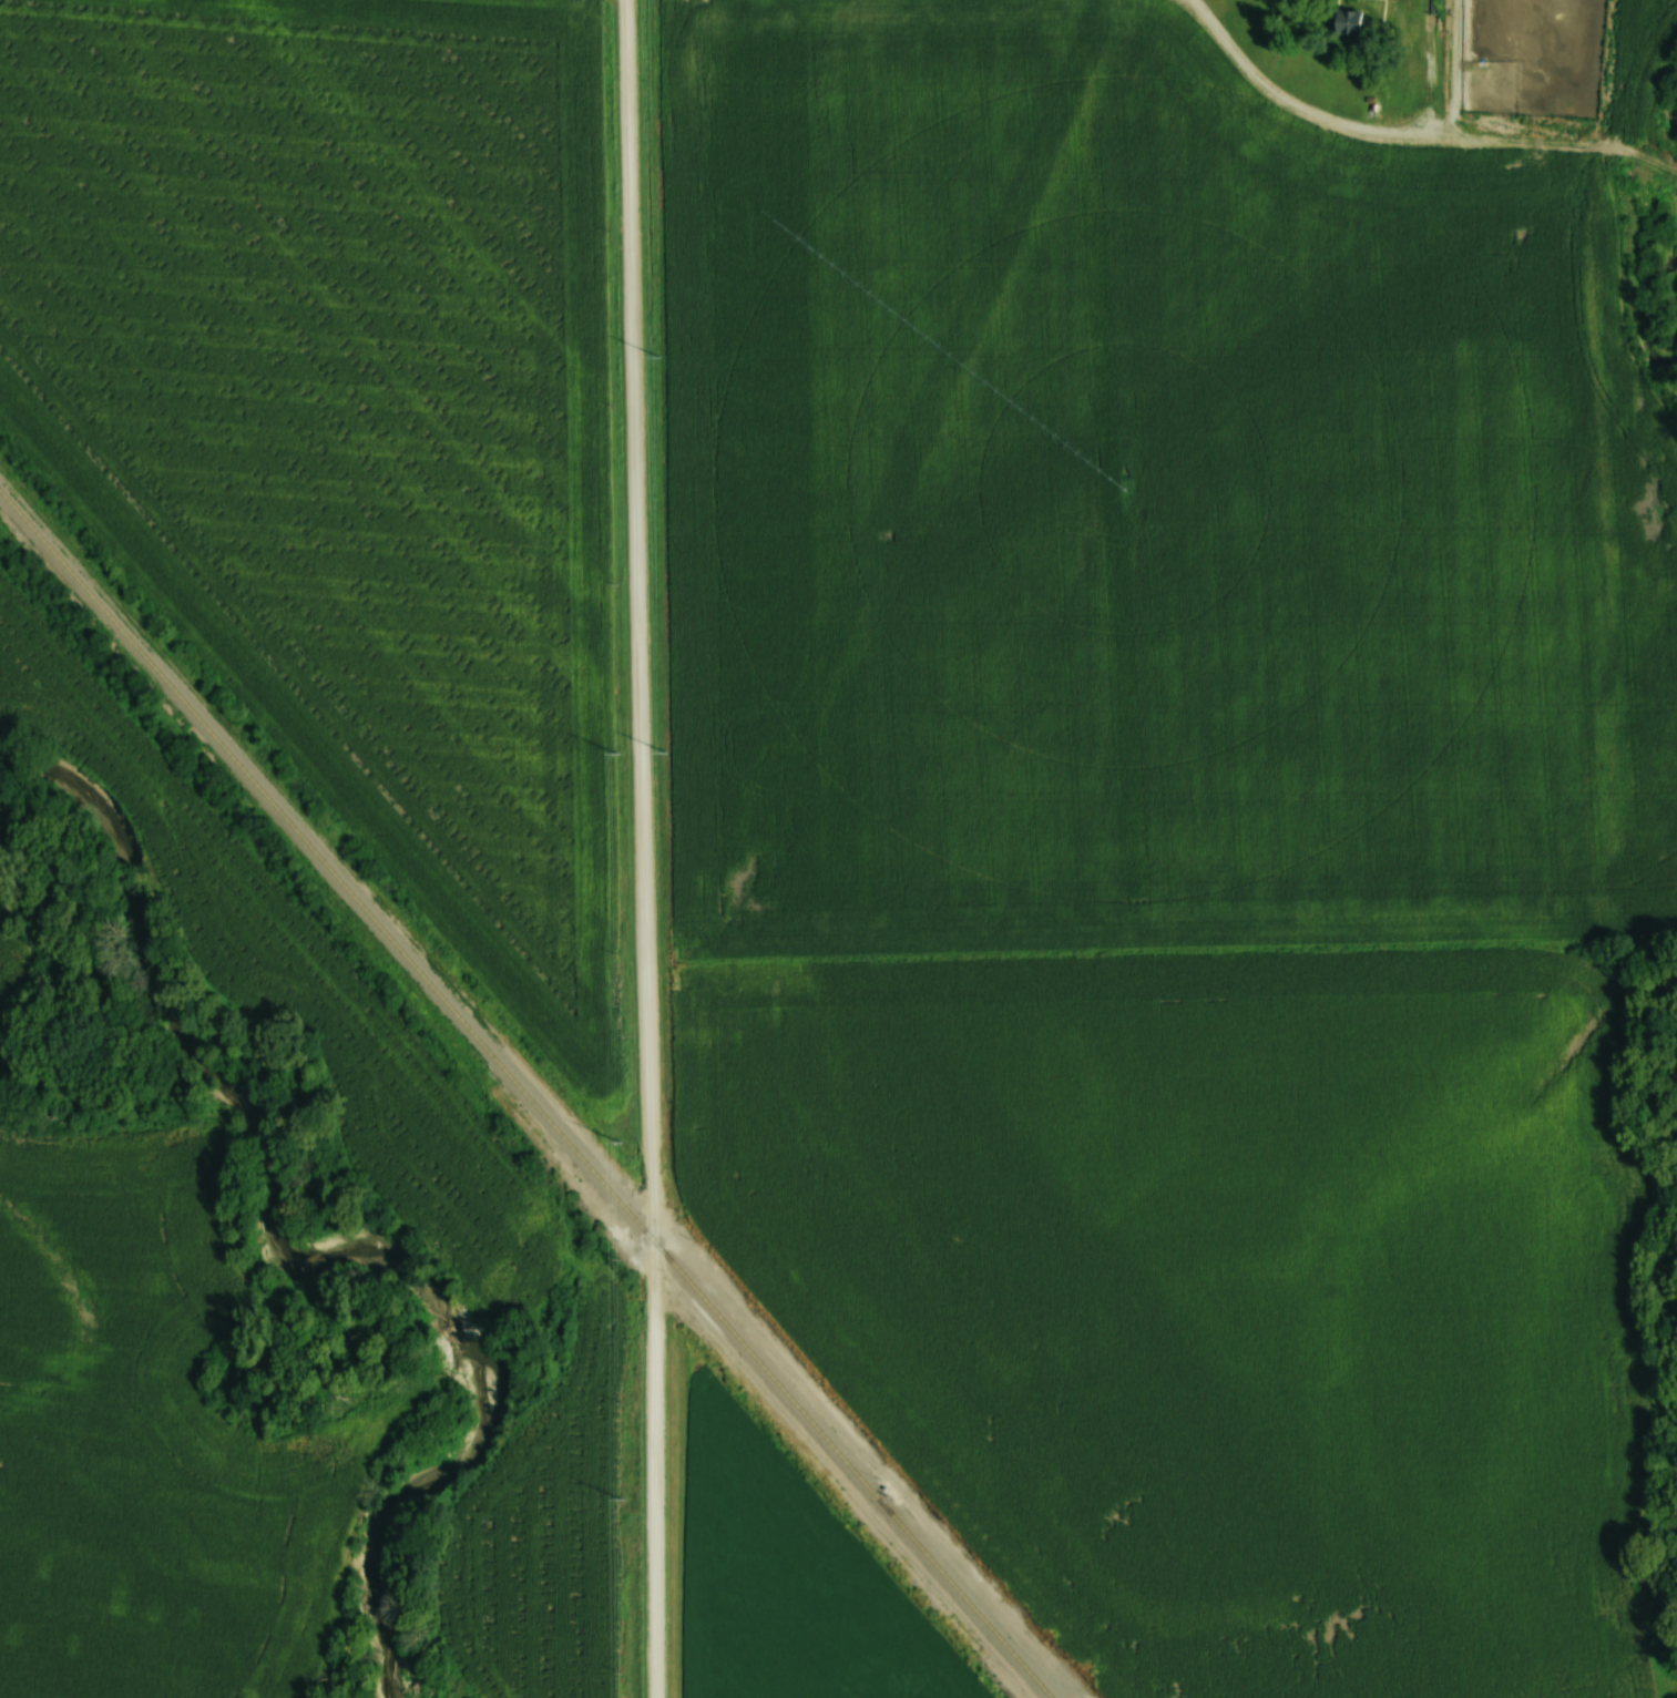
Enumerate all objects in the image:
building: (1343, 22)
road: (647, 848)
railway: (518, 1111)
crop: (797, 1578)

